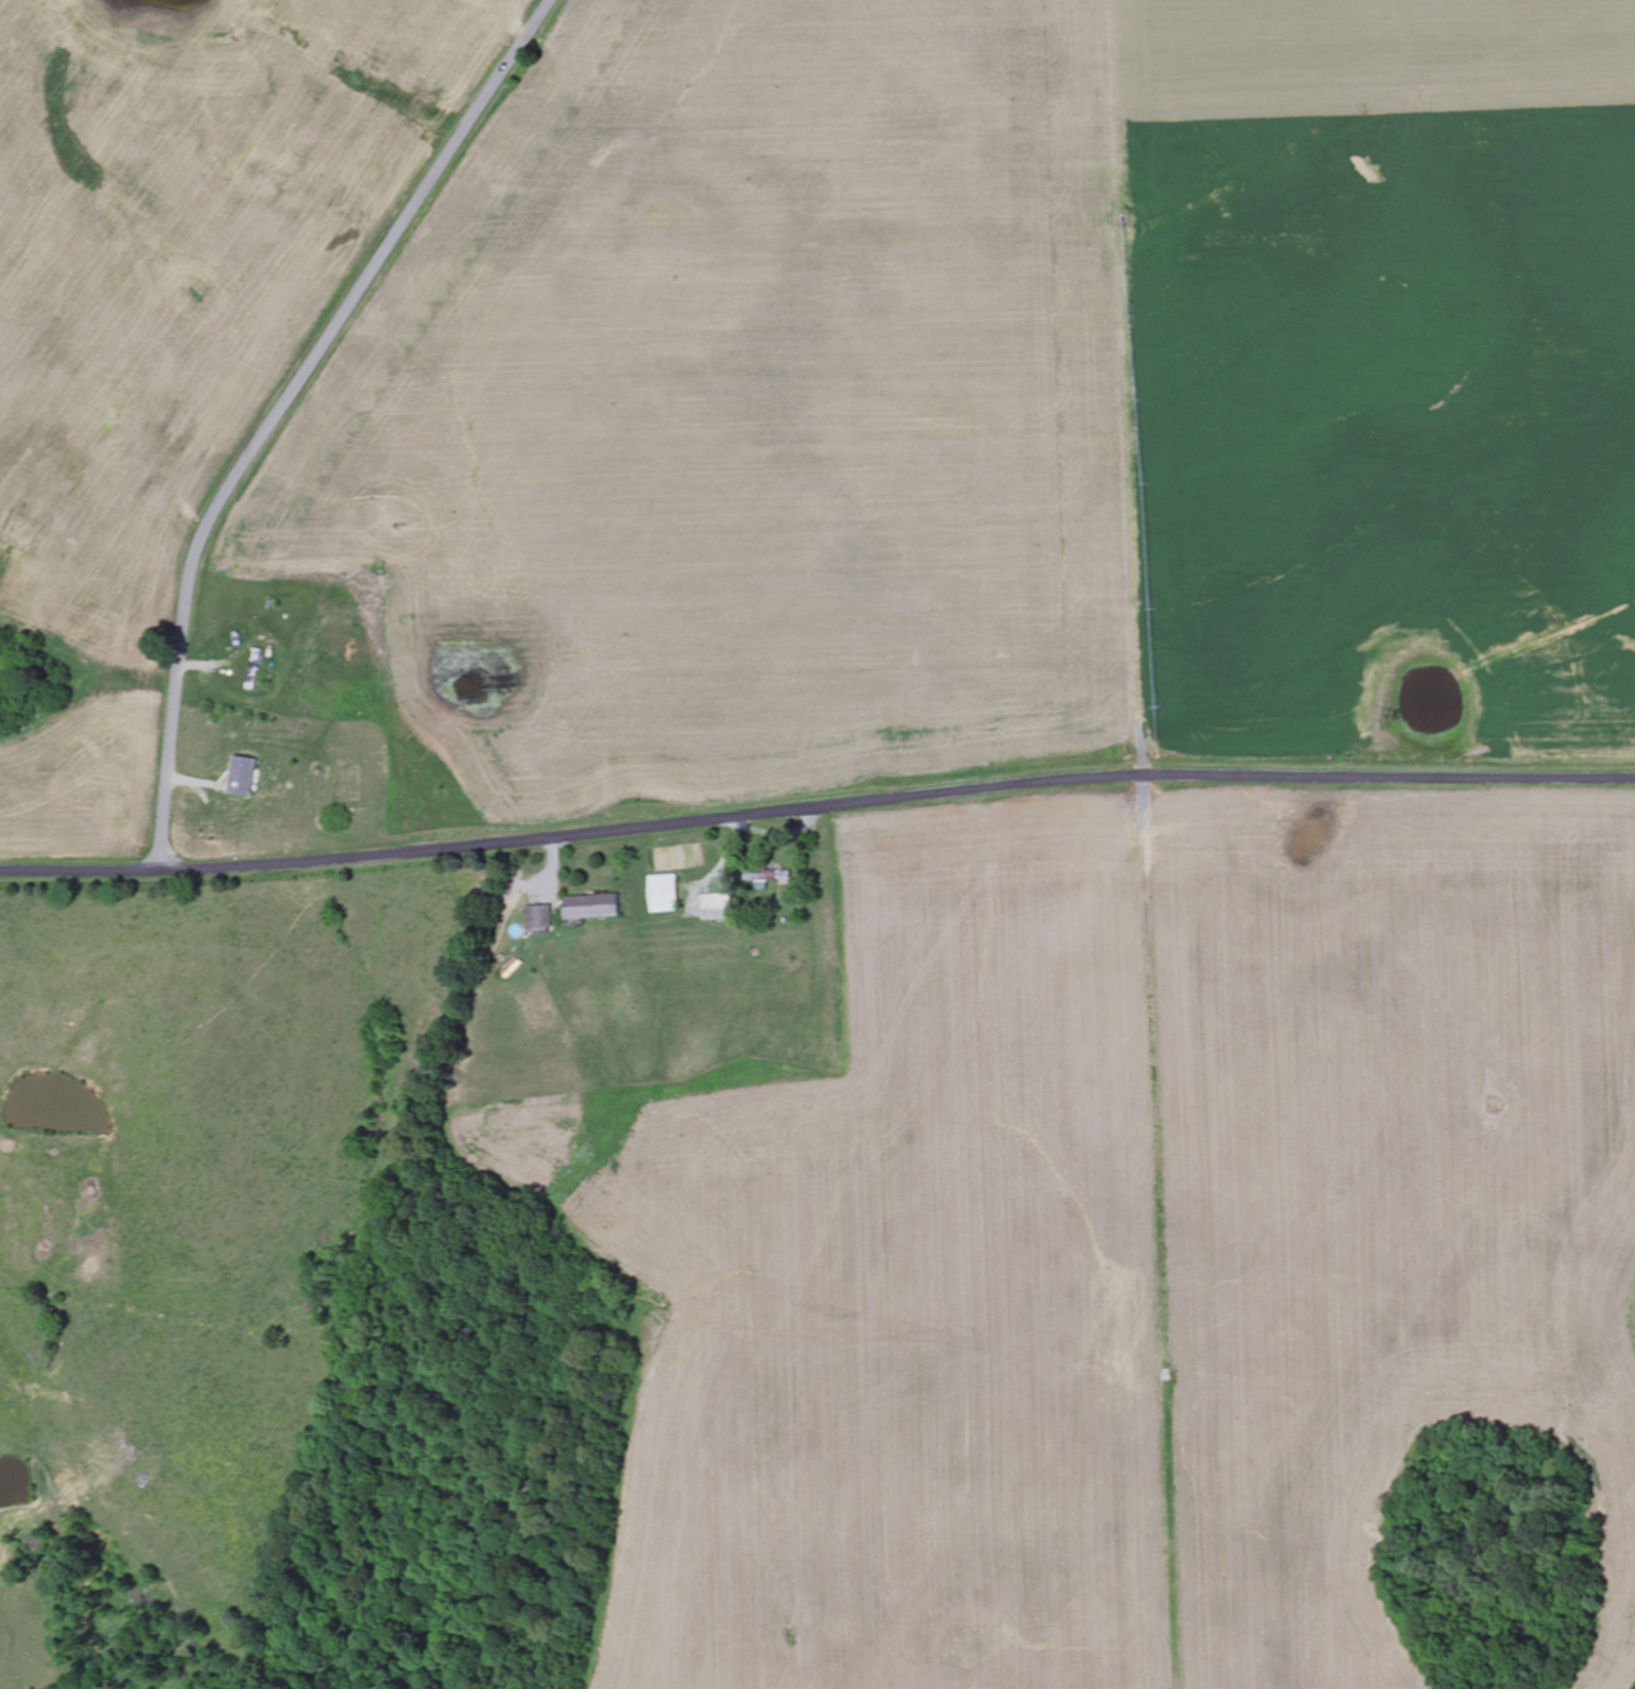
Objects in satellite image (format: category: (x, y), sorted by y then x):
road: (284, 408)
building: (244, 777)
road: (898, 796)
road: (82, 871)
building: (773, 877)
building: (665, 894)
building: (593, 907)
building: (718, 907)
building: (541, 917)

